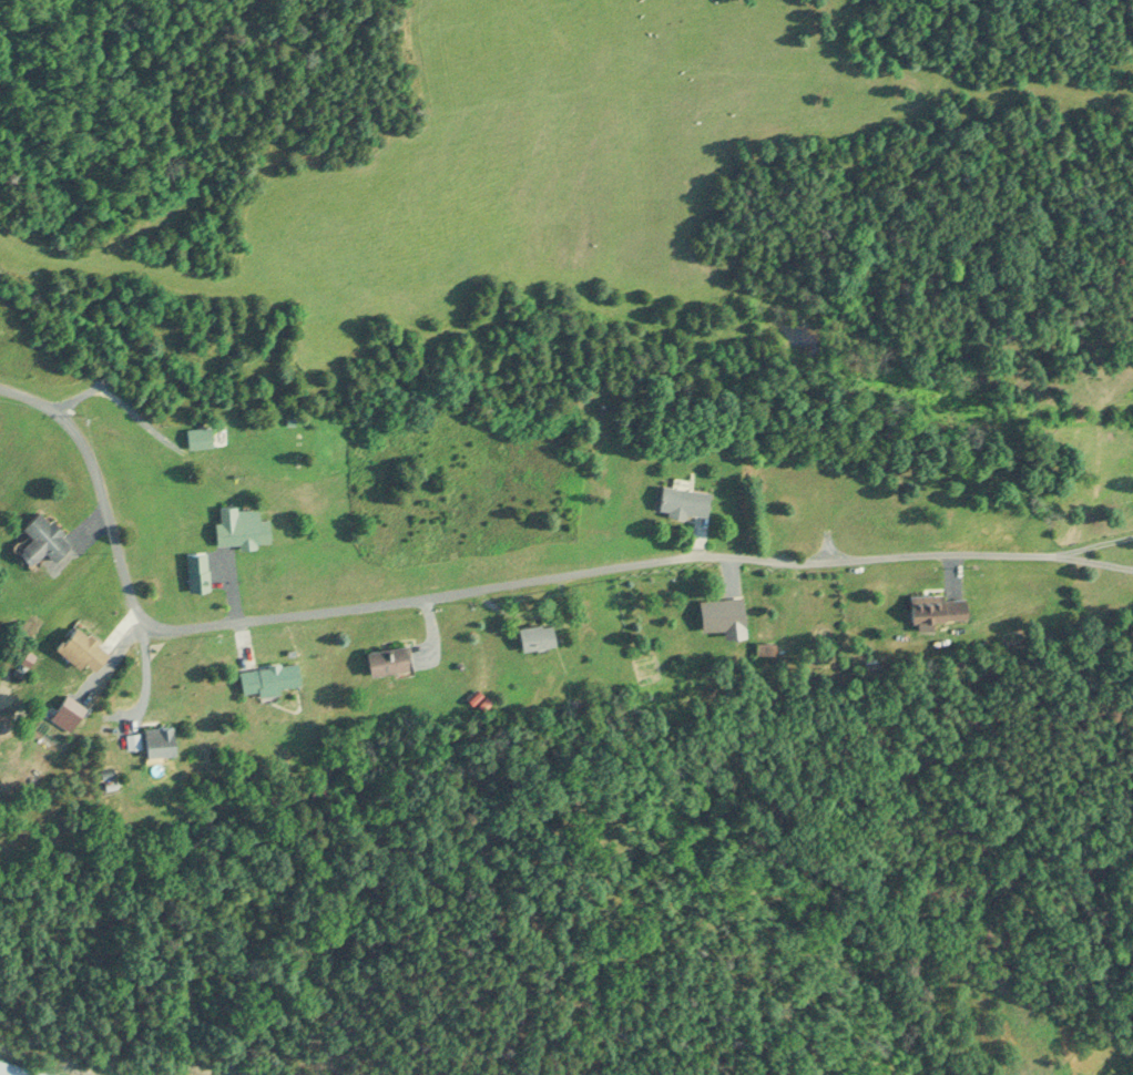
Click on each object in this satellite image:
building: (196, 438)
building: (680, 500)
building: (237, 529)
building: (39, 539)
road: (452, 592)
building: (931, 606)
building: (716, 613)
building: (532, 635)
building: (78, 648)
building: (382, 658)
building: (266, 678)
building: (64, 713)
building: (154, 740)
building: (13, 1072)

